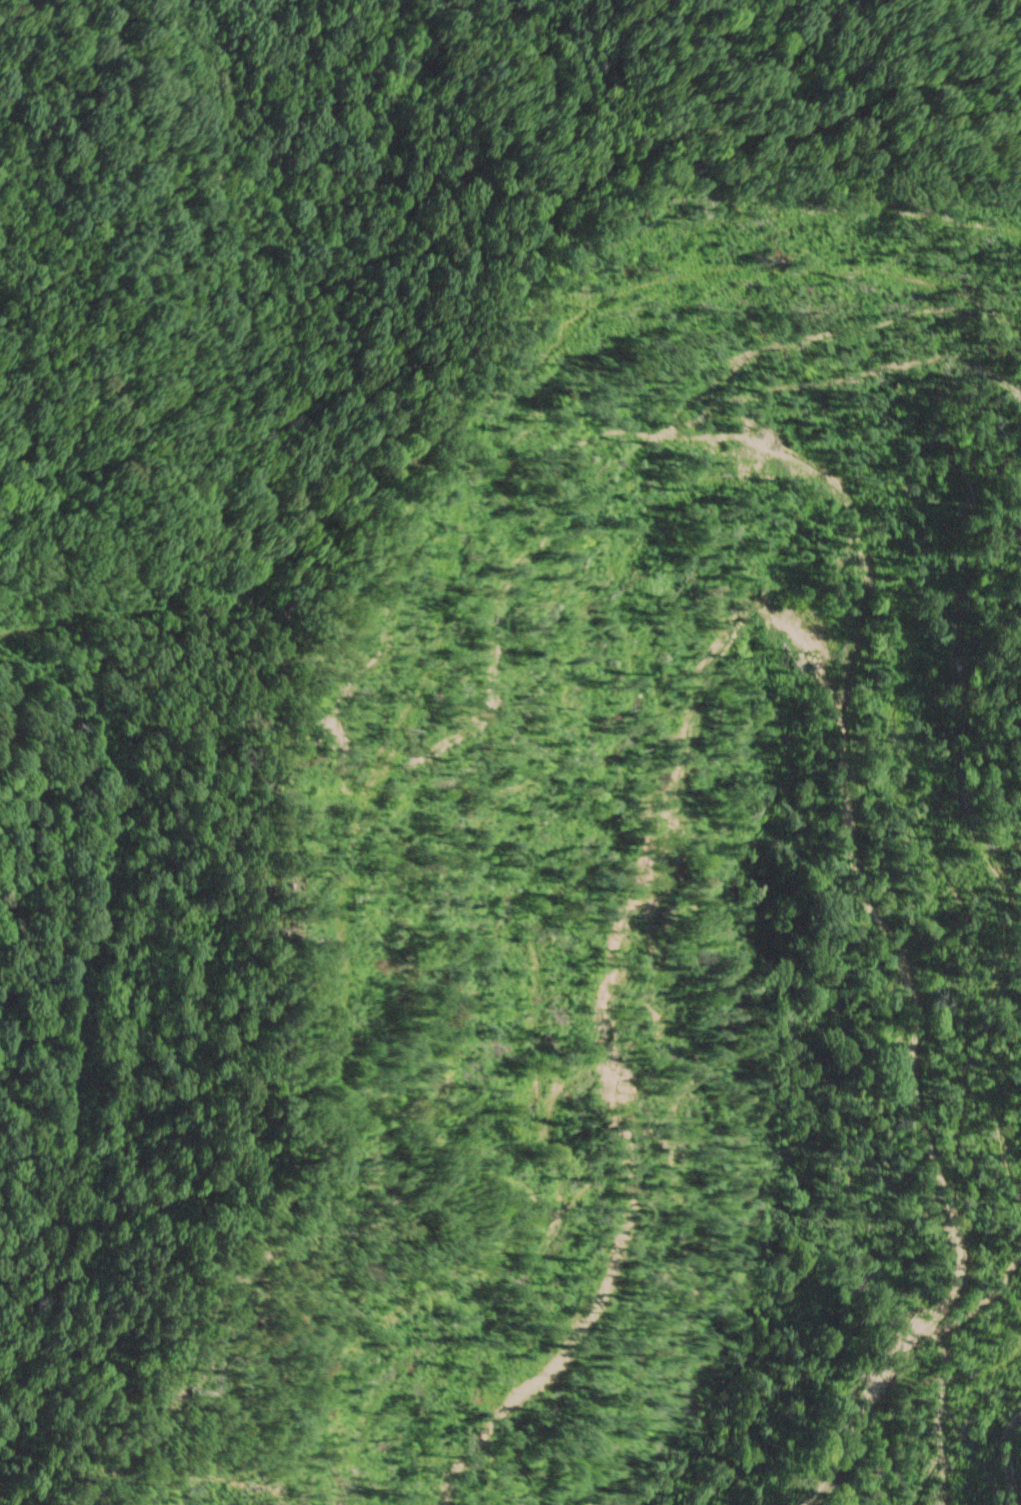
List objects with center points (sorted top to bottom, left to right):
road: (934, 1180)
road: (874, 1412)

